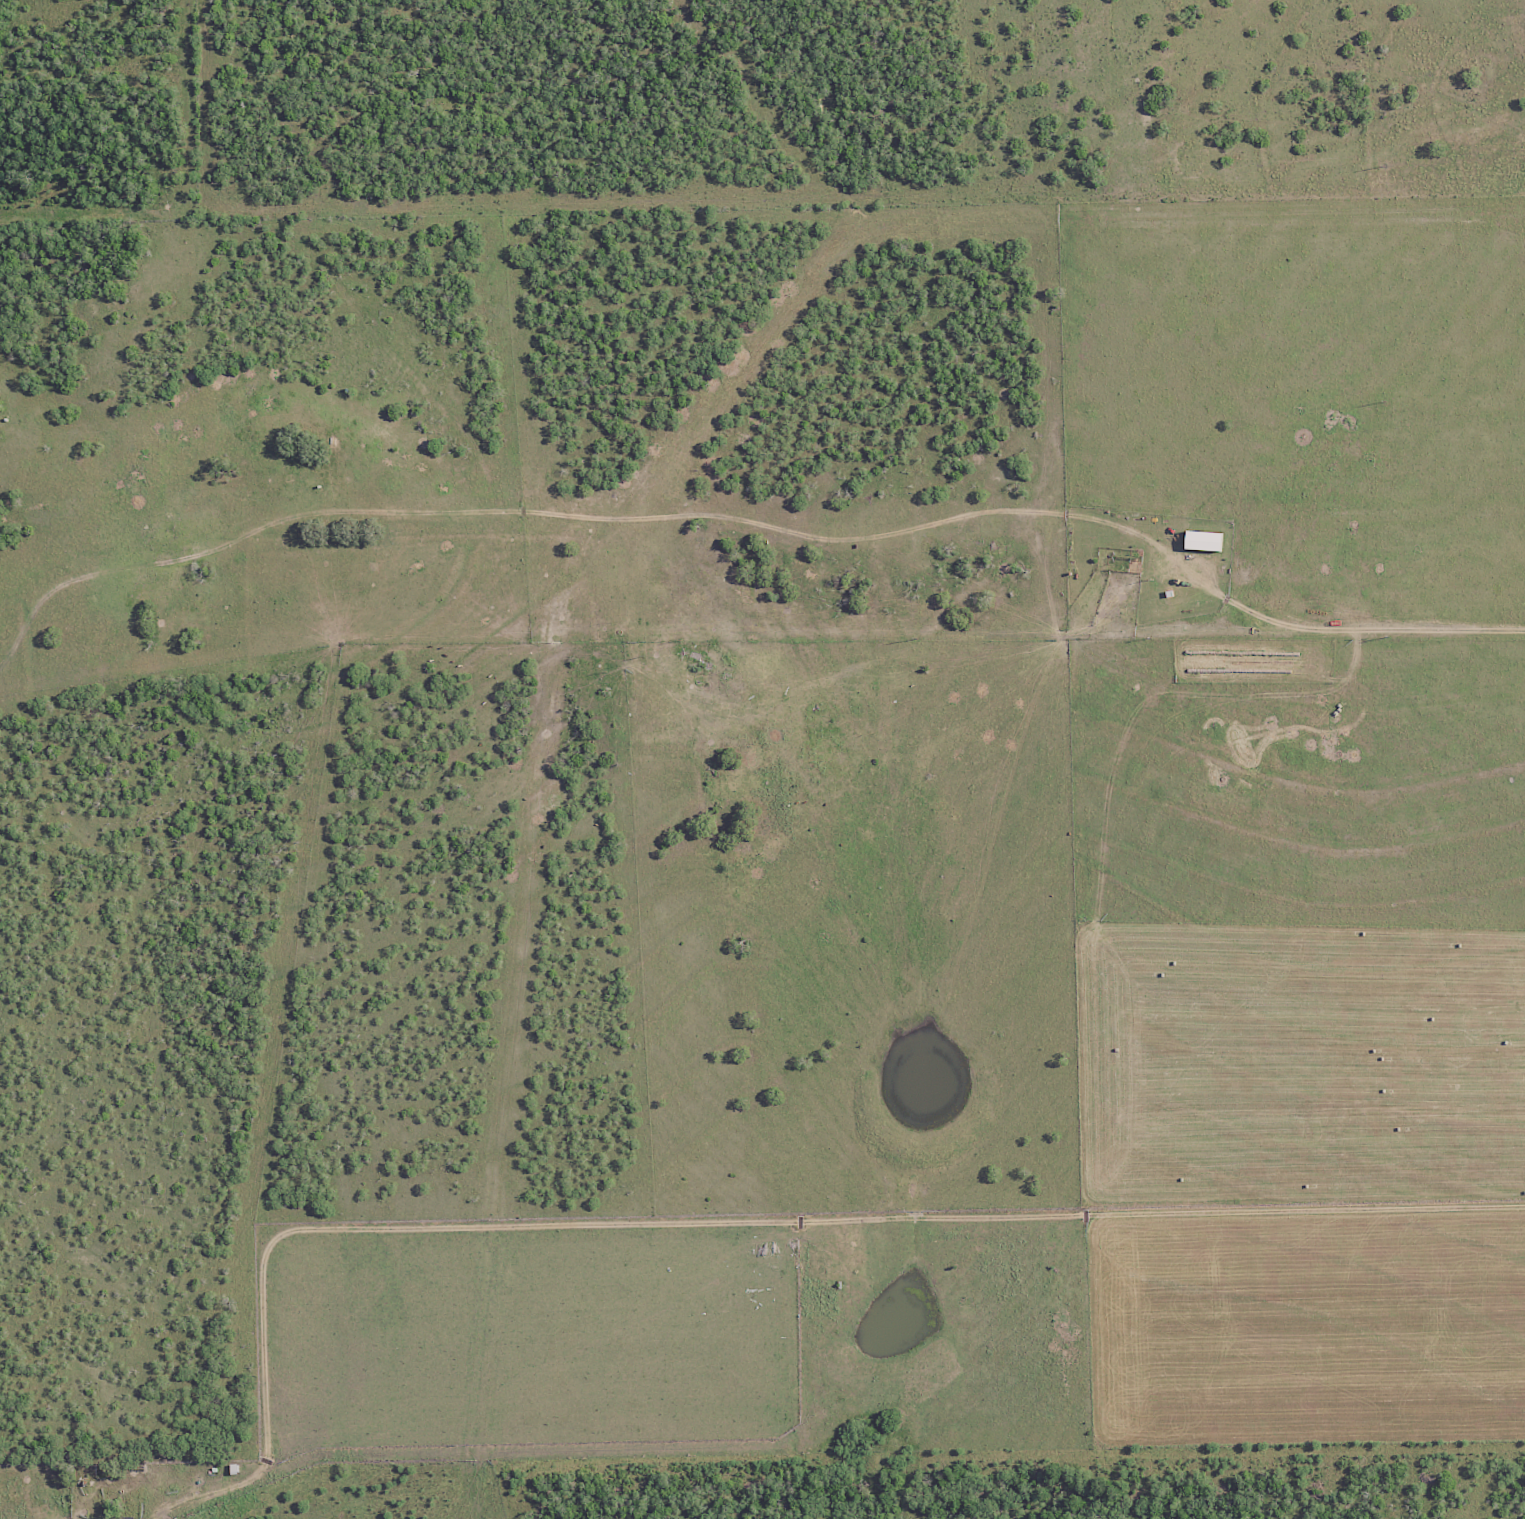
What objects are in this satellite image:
building: (1201, 540)

